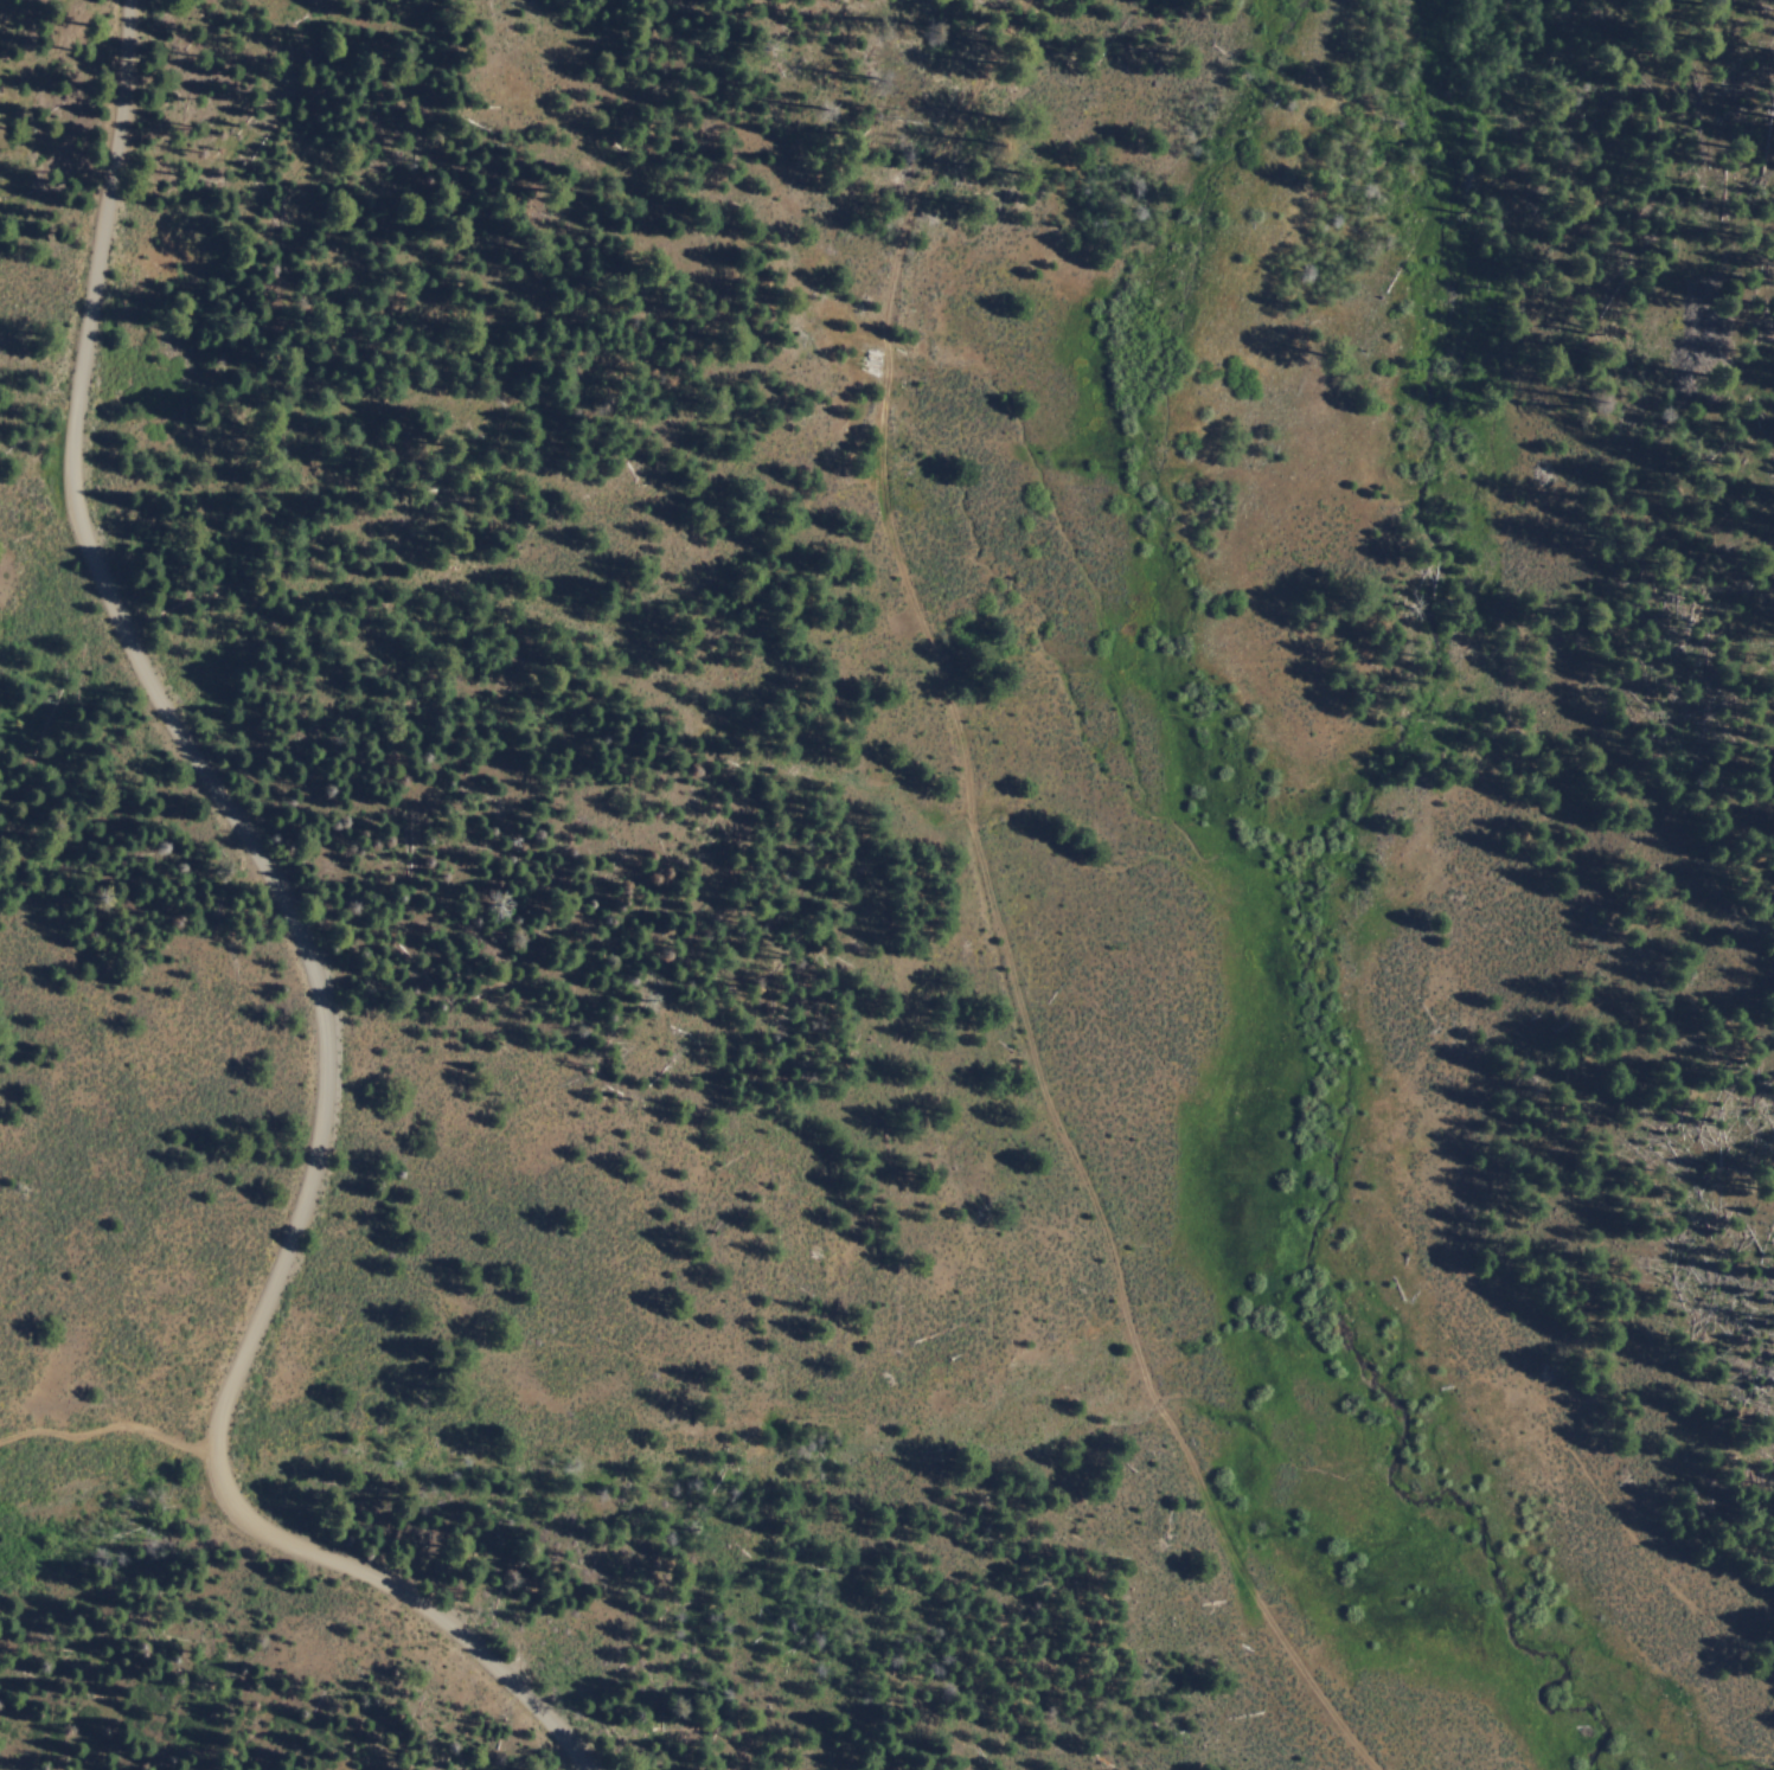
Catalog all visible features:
road: (888, 389)
road: (310, 963)
road: (1068, 1219)
road: (105, 1435)

